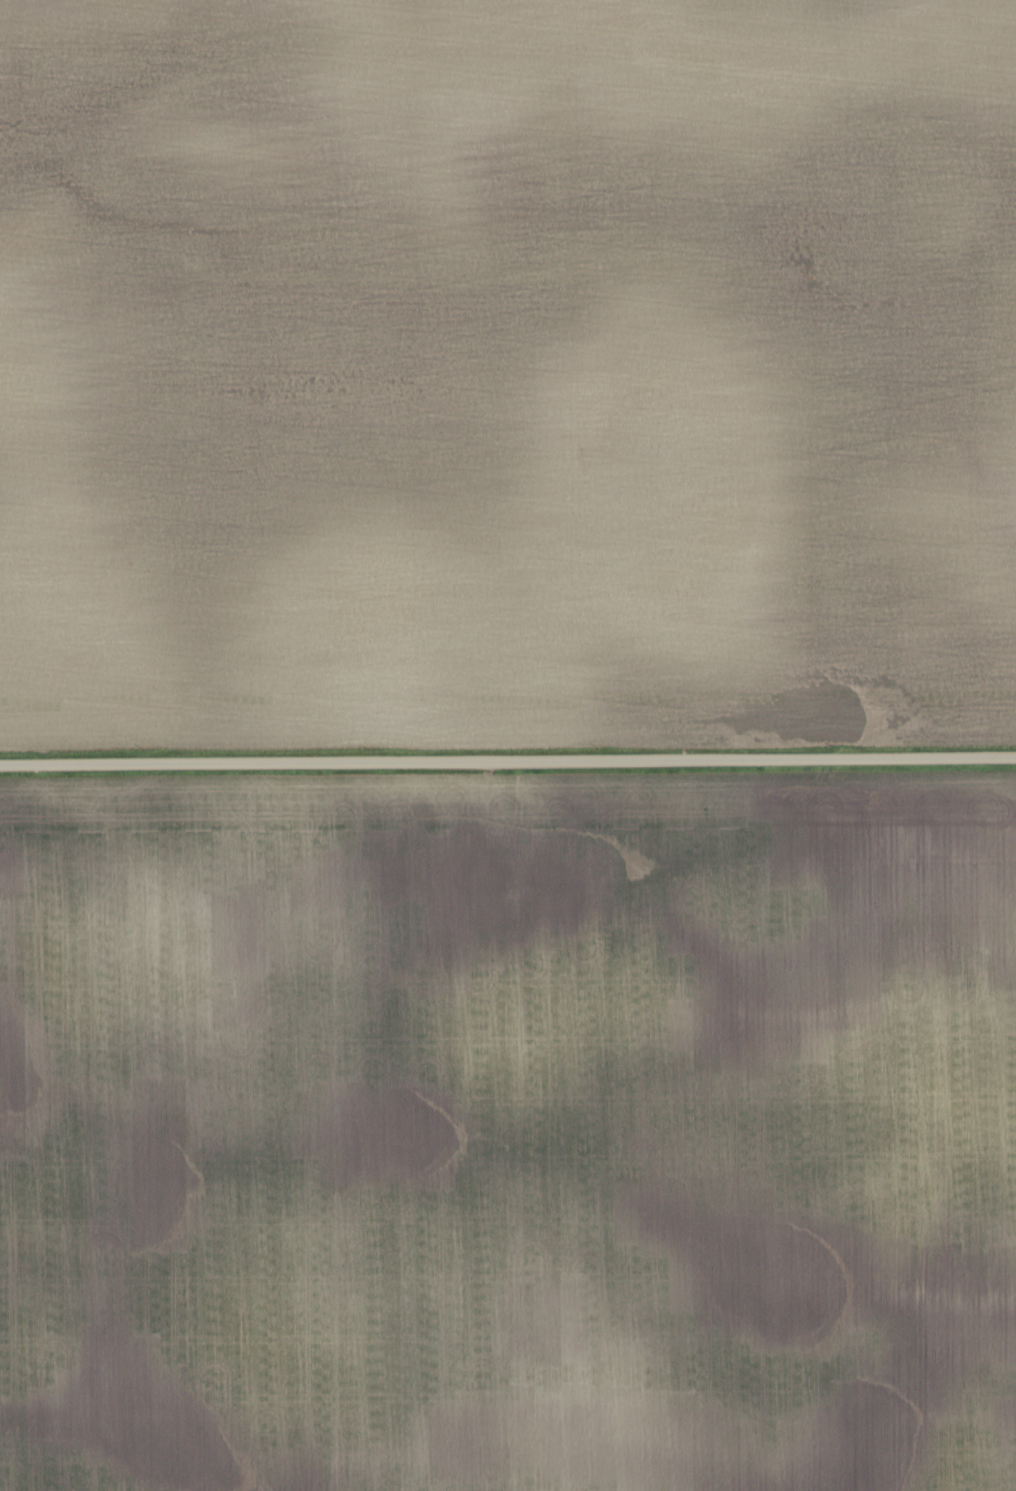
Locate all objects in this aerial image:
road: (508, 764)

